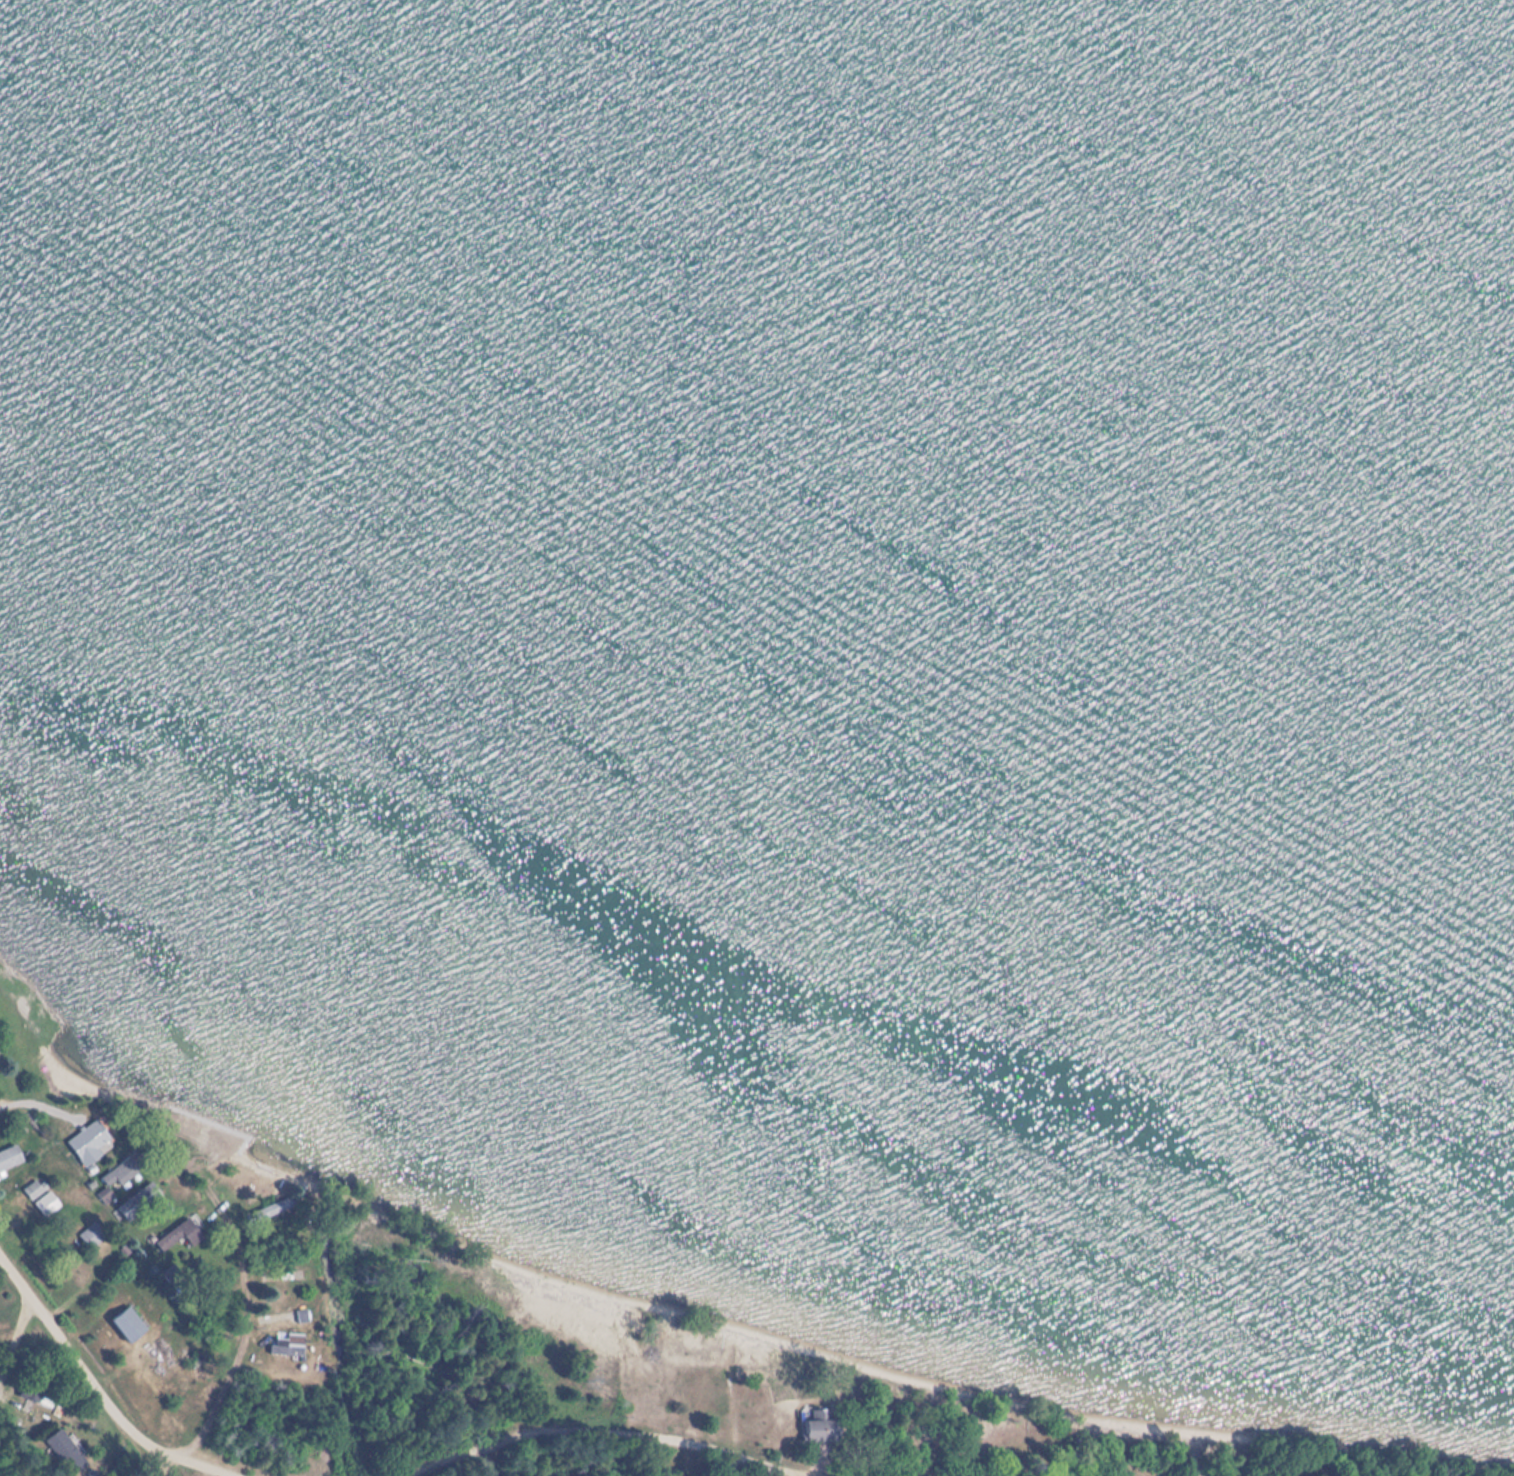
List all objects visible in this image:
building: (1, 1067)
road: (41, 1105)
building: (94, 1143)
building: (9, 1157)
building: (122, 1172)
building: (36, 1189)
building: (106, 1195)
building: (140, 1202)
building: (47, 1204)
building: (274, 1208)
building: (181, 1235)
building: (92, 1236)
building: (128, 1324)
road: (13, 1329)
road: (237, 1344)
building: (283, 1350)
road: (81, 1368)
building: (32, 1392)
building: (821, 1428)
road: (611, 1431)
building: (66, 1451)
road: (496, 1458)
road: (174, 1466)
road: (215, 1466)

